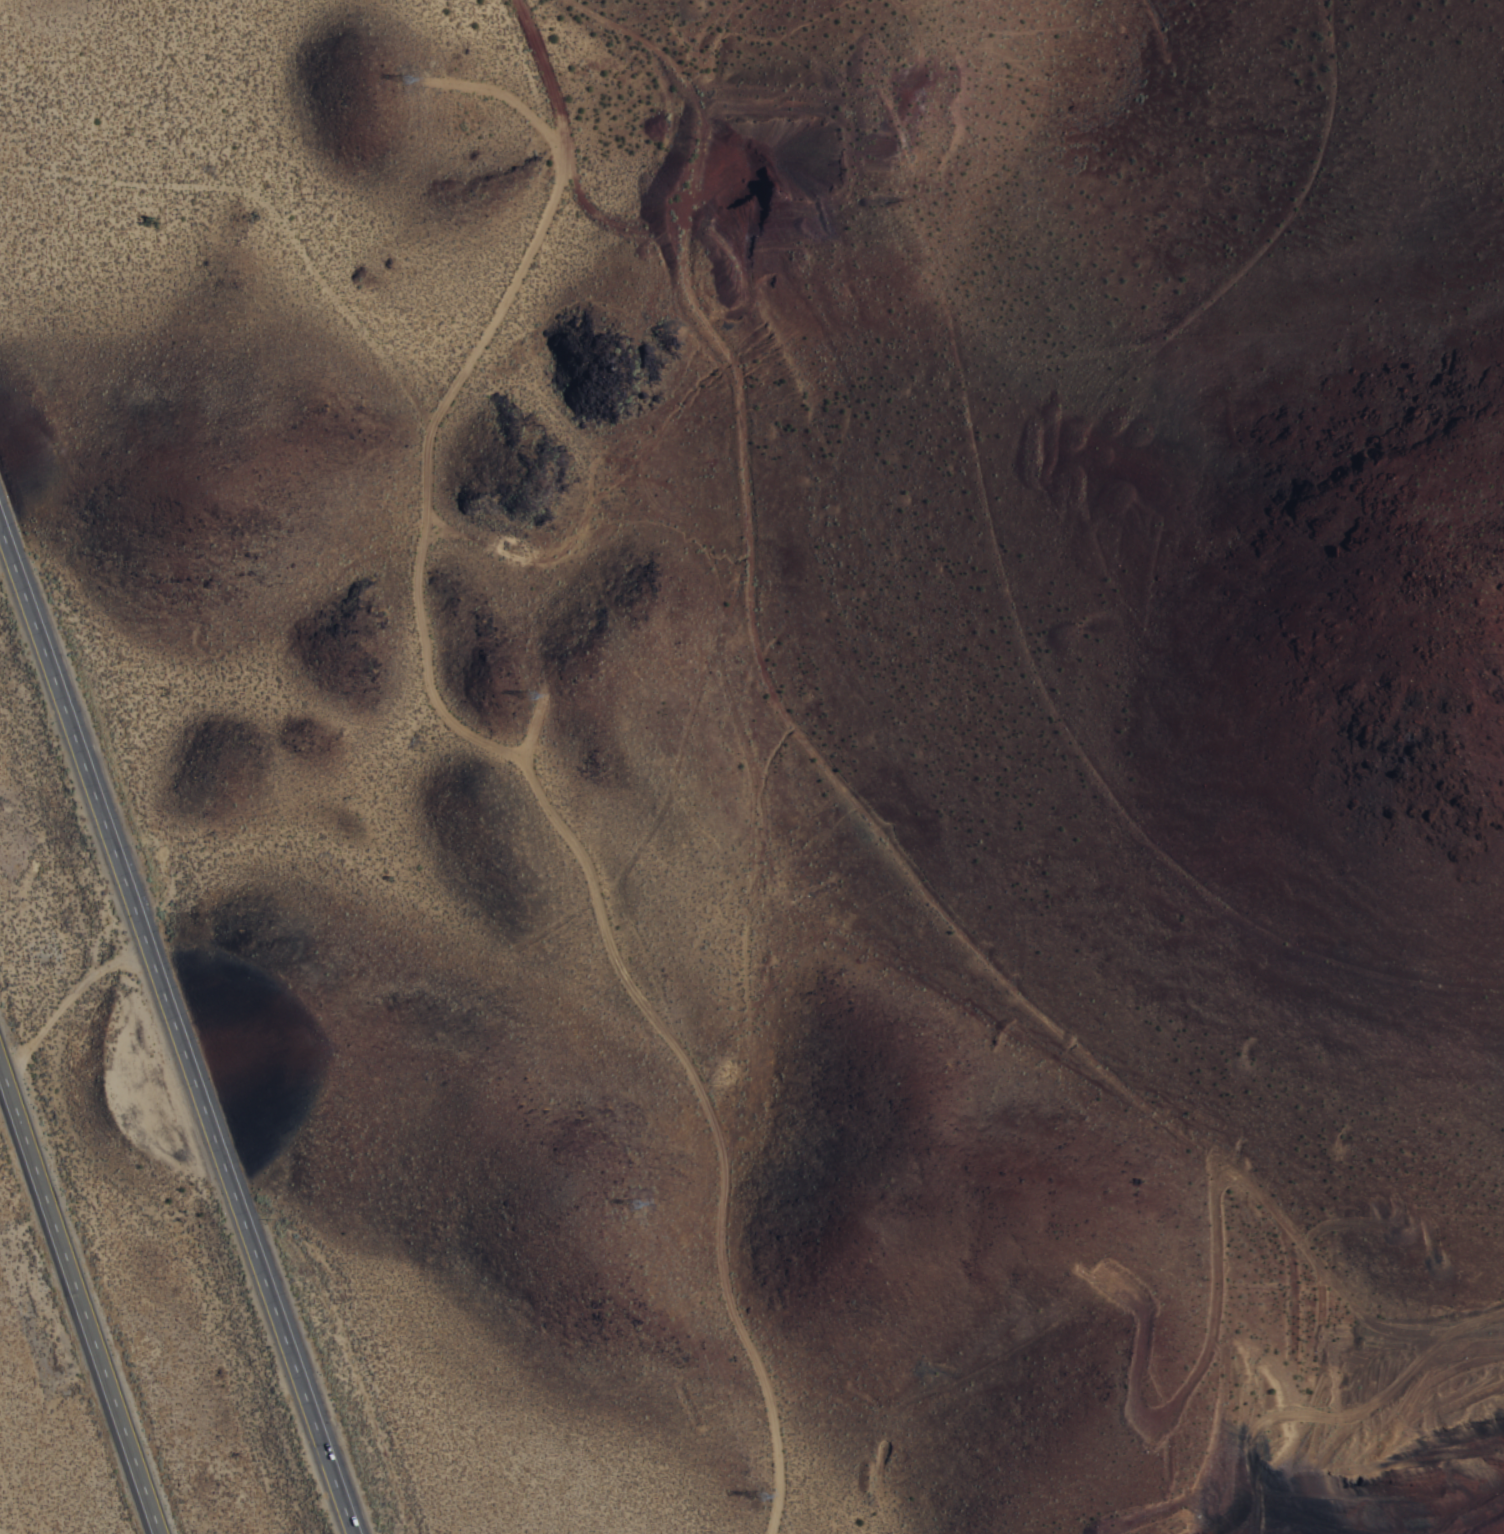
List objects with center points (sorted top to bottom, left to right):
road: (546, 73)
power tower: (702, 75)
power tower: (405, 81)
road: (710, 331)
road: (452, 388)
power tower: (527, 697)
road: (532, 725)
road: (175, 1016)
road: (714, 1126)
power tower: (637, 1210)
road: (82, 1293)
power tower: (762, 1500)

